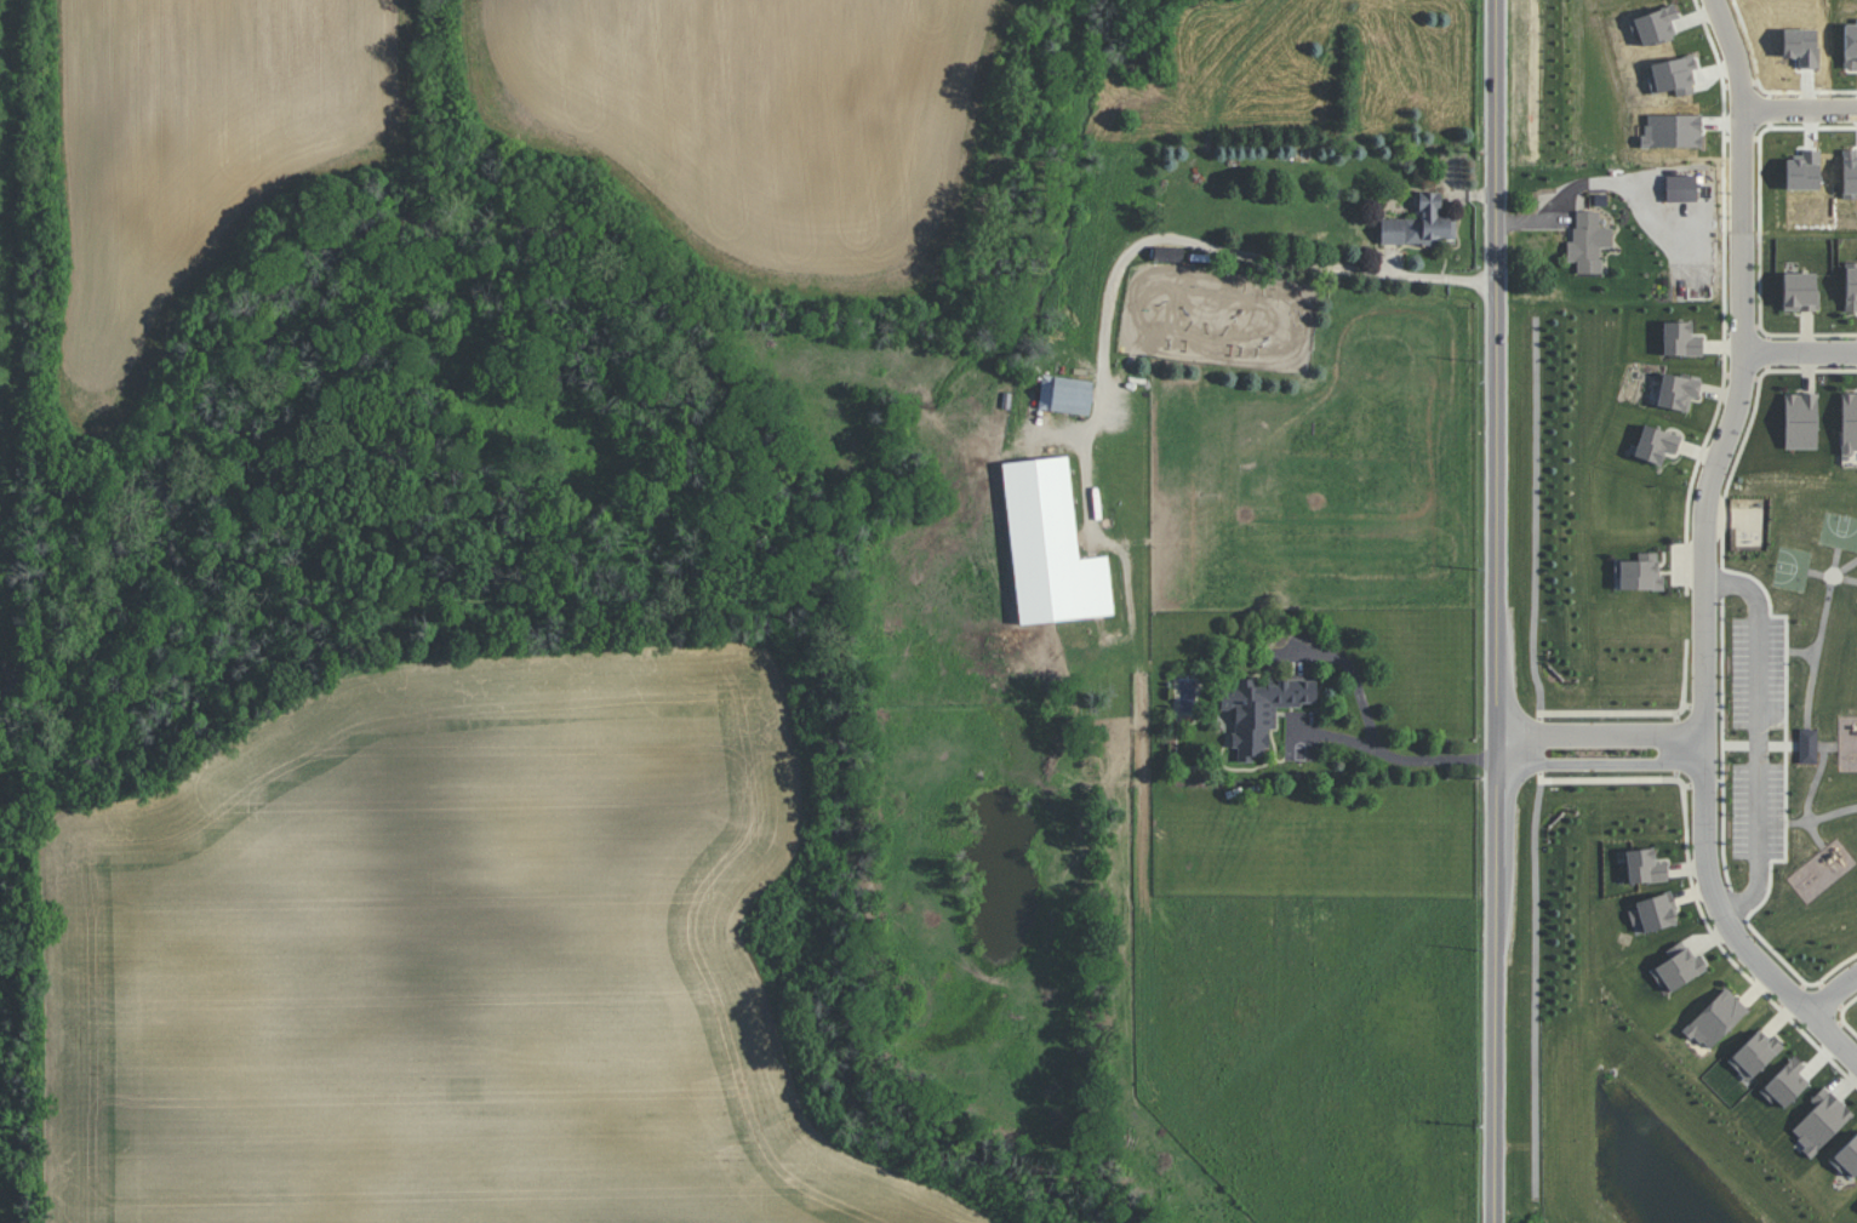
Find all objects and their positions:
road: (1744, 115)
road: (1800, 115)
building: (1681, 188)
building: (1419, 223)
building: (1588, 241)
road: (1246, 252)
building: (1167, 253)
building: (1853, 284)
road: (1760, 290)
building: (1805, 290)
road: (1742, 325)
road: (1812, 333)
building: (1685, 338)
road: (1769, 352)
road: (1800, 352)
road: (1742, 377)
building: (1681, 389)
building: (1065, 394)
building: (1852, 416)
building: (1806, 417)
building: (1661, 441)
road: (1709, 487)
road: (1687, 513)
road: (1536, 514)
park: (1839, 533)
building: (1051, 545)
park: (1792, 571)
building: (1645, 573)
road: (1721, 579)
road: (1497, 611)
road: (1789, 655)
building: (1261, 709)
road: (1609, 711)
park: (1793, 713)
road: (1810, 722)
road: (1600, 735)
road: (1760, 736)
road: (1676, 744)
road: (1690, 744)
building: (1807, 745)
road: (1541, 747)
road: (1512, 748)
road: (1784, 749)
road: (1392, 754)
road: (1601, 761)
road: (1609, 779)
road: (1788, 825)
building: (1650, 865)
road: (1737, 905)
building: (1662, 910)
road: (1729, 925)
road: (1725, 951)
building: (1684, 964)
road: (1798, 973)
road: (1536, 987)
road: (1833, 991)
building: (1720, 1013)
road: (1842, 1015)
building: (1760, 1047)
building: (1790, 1080)
building: (1829, 1115)
building: (1850, 1155)

